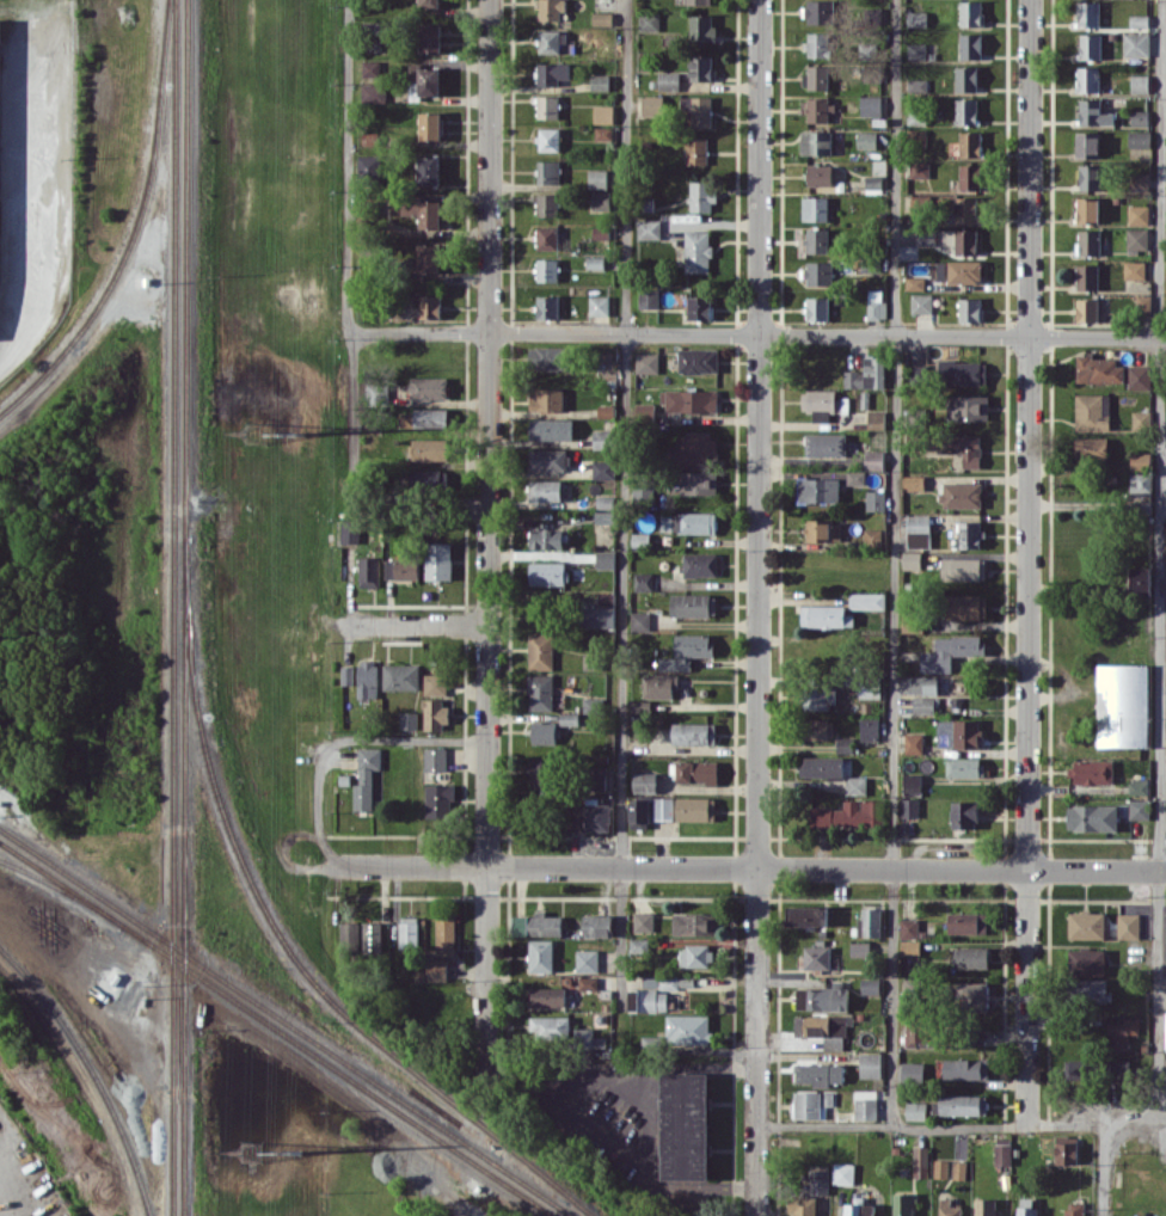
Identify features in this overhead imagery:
building: (698, 1)
building: (429, 2)
building: (550, 10)
building: (818, 11)
building: (971, 13)
building: (1088, 13)
building: (916, 18)
building: (1139, 19)
building: (649, 20)
building: (701, 27)
building: (430, 37)
building: (552, 41)
building: (1136, 43)
building: (817, 44)
building: (970, 45)
building: (1090, 45)
building: (916, 50)
building: (700, 67)
building: (370, 68)
building: (413, 72)
building: (552, 73)
building: (816, 76)
building: (965, 78)
building: (1088, 79)
building: (429, 80)
building: (668, 80)
building: (600, 81)
building: (1140, 82)
building: (918, 85)
building: (374, 93)
building: (652, 105)
building: (870, 105)
building: (547, 106)
building: (816, 109)
building: (695, 111)
building: (966, 111)
building: (1094, 112)
building: (603, 113)
building: (915, 115)
building: (1139, 116)
building: (430, 125)
building: (603, 133)
building: (916, 137)
building: (548, 139)
building: (1139, 139)
building: (866, 140)
building: (816, 142)
building: (970, 143)
building: (1087, 143)
building: (696, 149)
building: (369, 166)
building: (429, 170)
building: (920, 170)
building: (548, 171)
building: (820, 174)
building: (970, 176)
building: (1090, 177)
building: (597, 178)
building: (873, 180)
building: (1139, 180)
building: (702, 196)
building: (601, 199)
building: (546, 204)
building: (815, 208)
building: (968, 208)
building: (417, 209)
building: (1087, 209)
building: (1139, 214)
railway: (134, 228)
building: (649, 228)
building: (601, 232)
building: (547, 237)
building: (925, 237)
building: (1137, 238)
building: (817, 240)
building: (965, 241)
building: (1088, 241)
building: (696, 251)
building: (428, 258)
building: (595, 262)
building: (1135, 269)
building: (547, 270)
building: (964, 271)
building: (817, 272)
building: (1087, 276)
building: (915, 283)
building: (1133, 283)
building: (648, 297)
building: (921, 302)
building: (599, 305)
building: (876, 305)
building: (1143, 305)
building: (430, 306)
building: (547, 307)
building: (699, 307)
building: (817, 308)
building: (969, 309)
building: (1087, 309)
road: (350, 325)
road: (759, 337)
building: (548, 357)
building: (698, 360)
building: (646, 362)
building: (1098, 368)
building: (963, 371)
building: (867, 374)
building: (1139, 376)
building: (428, 387)
building: (546, 399)
building: (692, 400)
building: (821, 403)
building: (968, 407)
building: (644, 410)
building: (1092, 411)
building: (423, 418)
building: (1140, 418)
building: (876, 419)
power tower: (253, 429)
building: (551, 429)
power tower: (302, 432)
road: (759, 432)
road: (1027, 434)
building: (602, 438)
building: (826, 443)
building: (962, 447)
building: (694, 448)
building: (1092, 448)
building: (429, 449)
building: (547, 460)
building: (873, 460)
building: (1140, 460)
building: (602, 468)
building: (855, 477)
building: (429, 481)
building: (698, 481)
building: (913, 481)
building: (1140, 484)
building: (546, 490)
building: (818, 490)
building: (961, 493)
building: (874, 499)
building: (605, 502)
building: (605, 516)
road: (625, 517)
building: (688, 522)
building: (823, 529)
building: (350, 530)
building: (918, 530)
building: (970, 534)
building: (872, 536)
road: (490, 538)
building: (546, 538)
building: (605, 559)
building: (438, 560)
building: (912, 560)
road: (894, 563)
building: (700, 564)
building: (401, 569)
building: (963, 569)
building: (369, 571)
building: (547, 573)
building: (643, 581)
building: (1140, 581)
building: (606, 597)
building: (867, 601)
building: (693, 604)
building: (966, 606)
railway: (173, 607)
railway: (185, 607)
building: (826, 615)
building: (599, 616)
building: (640, 620)
road: (1160, 620)
road: (418, 622)
building: (540, 651)
building: (687, 651)
building: (950, 652)
building: (594, 661)
building: (348, 675)
building: (401, 676)
building: (368, 678)
building: (435, 683)
building: (920, 683)
building: (661, 684)
building: (870, 688)
building: (540, 692)
building: (821, 696)
building: (925, 705)
building: (1123, 705)
building: (435, 714)
building: (409, 719)
building: (818, 729)
building: (870, 729)
building: (550, 730)
building: (694, 732)
building: (958, 733)
road: (342, 741)
building: (914, 743)
building: (435, 759)
building: (823, 766)
building: (964, 767)
building: (542, 770)
building: (1092, 770)
building: (696, 772)
building: (366, 776)
building: (599, 776)
building: (645, 782)
building: (912, 782)
building: (855, 785)
building: (438, 802)
building: (909, 806)
building: (663, 807)
building: (695, 809)
building: (1140, 809)
building: (639, 813)
building: (846, 813)
building: (964, 813)
building: (597, 815)
building: (575, 817)
building: (1092, 817)
road: (287, 841)
road: (735, 867)
railway: (61, 891)
building: (808, 915)
building: (643, 921)
building: (870, 922)
building: (966, 922)
building: (694, 923)
building: (538, 925)
building: (597, 925)
building: (1086, 925)
building: (1128, 925)
building: (409, 931)
building: (350, 933)
building: (446, 934)
building: (909, 935)
building: (372, 938)
railway: (281, 940)
building: (639, 945)
building: (860, 948)
building: (541, 956)
building: (695, 956)
building: (815, 957)
building: (970, 957)
building: (587, 960)
building: (1086, 962)
building: (437, 969)
building: (588, 982)
building: (870, 985)
building: (1092, 989)
building: (971, 995)
building: (548, 996)
road: (1027, 997)
building: (822, 999)
railway: (287, 1022)
building: (820, 1025)
building: (550, 1027)
railway: (276, 1028)
building: (688, 1028)
building: (1121, 1031)
building: (1165, 1032)
building: (922, 1033)
building: (833, 1040)
road: (757, 1042)
building: (871, 1064)
road: (729, 1068)
building: (965, 1068)
building: (1075, 1069)
building: (1119, 1069)
railway: (94, 1070)
building: (818, 1073)
building: (913, 1073)
road: (558, 1097)
building: (811, 1104)
building: (959, 1105)
building: (866, 1108)
building: (916, 1110)
building: (685, 1125)
road: (891, 1125)
road: (646, 1129)
power tower: (299, 1148)
power tower: (251, 1150)
building: (1002, 1153)
building: (1067, 1153)
building: (920, 1161)
building: (940, 1168)
building: (959, 1169)
building: (843, 1173)
building: (818, 1181)
road: (732, 1186)
road: (453, 1200)
building: (902, 1204)
building: (804, 1205)
building: (949, 1208)
building: (860, 1209)
building: (1075, 1209)
building: (1026, 1211)

